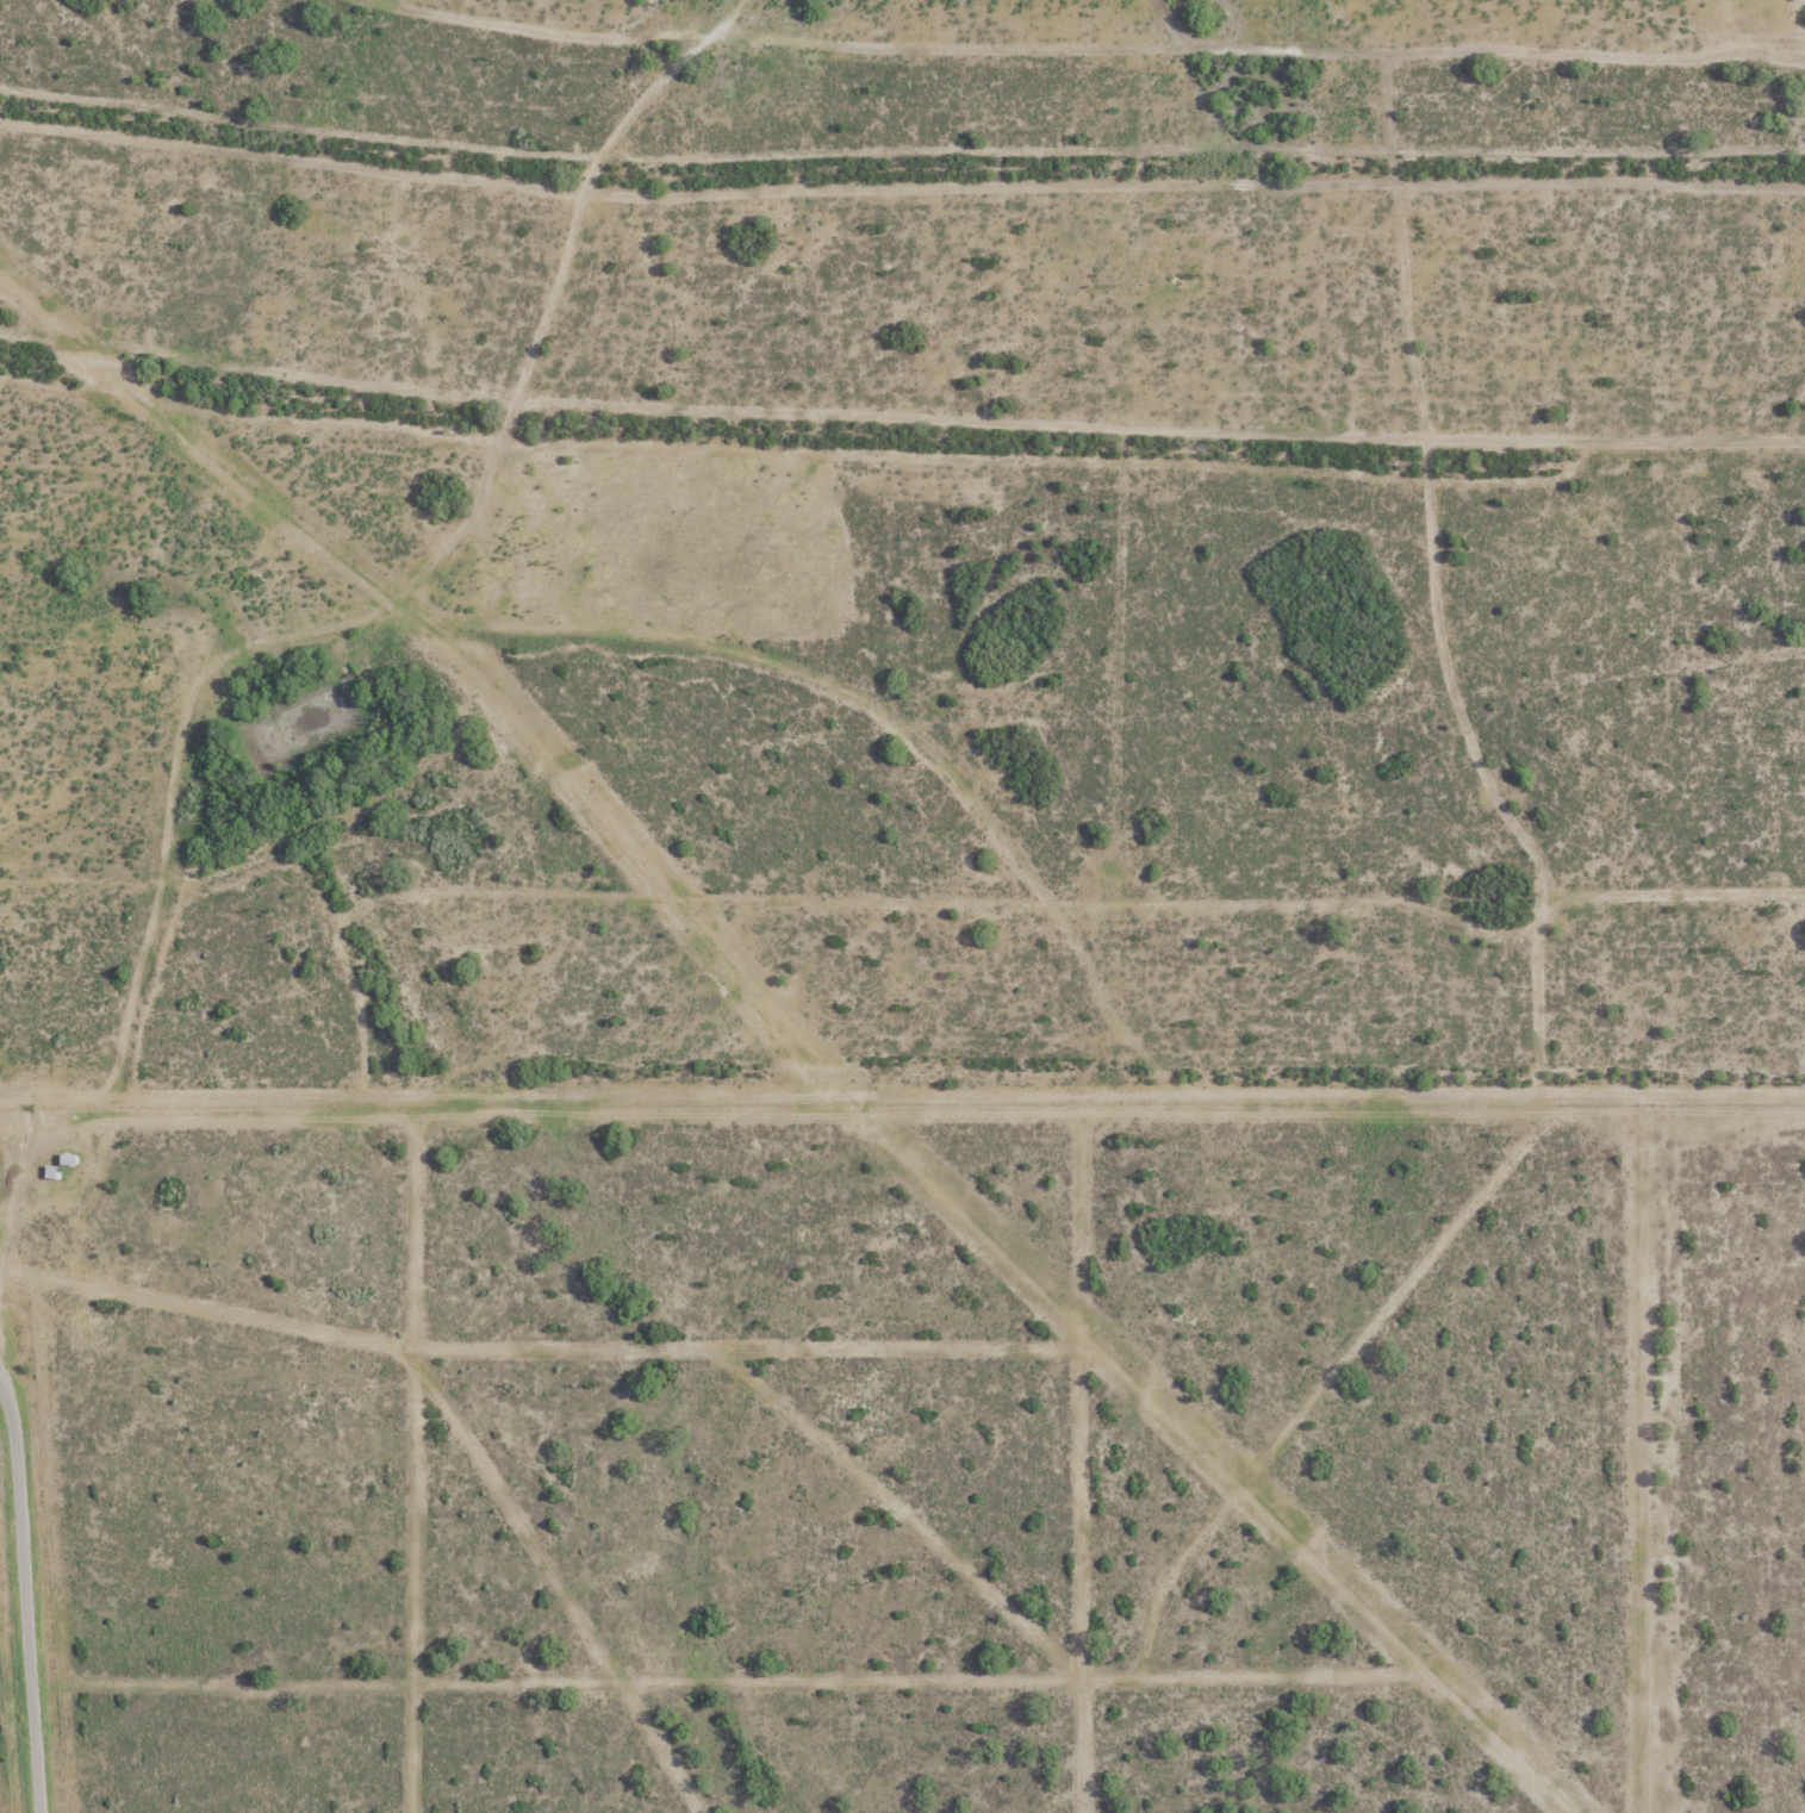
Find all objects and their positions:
building: (66, 1159)
building: (50, 1172)
road: (24, 1594)

